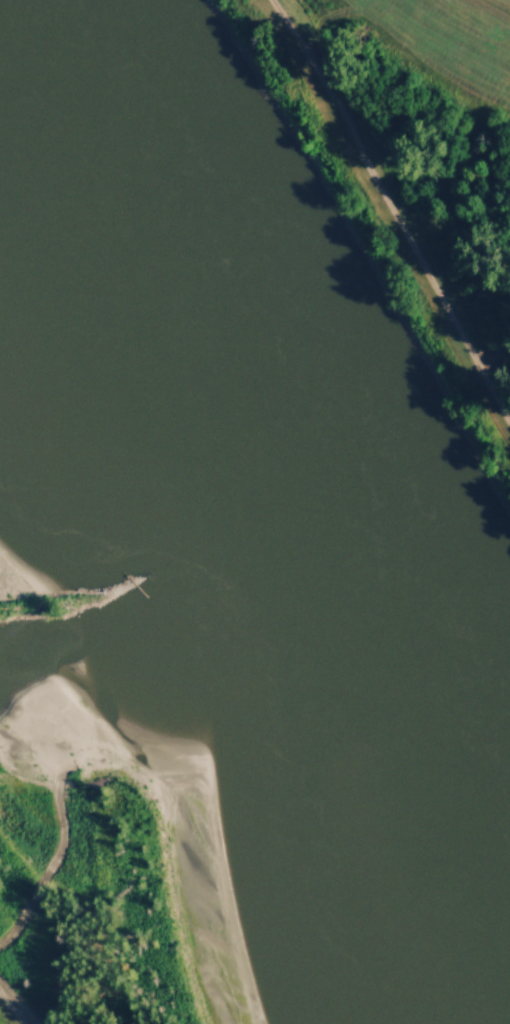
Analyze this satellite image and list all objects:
road: (385, 212)
river: (255, 454)

